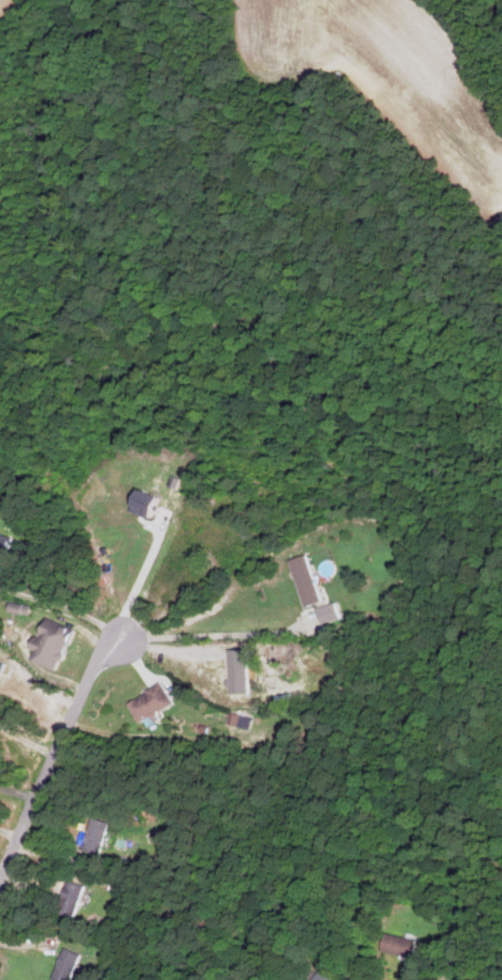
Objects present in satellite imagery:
building: (149, 502)
building: (4, 546)
building: (306, 579)
road: (138, 580)
road: (63, 607)
building: (329, 612)
road: (218, 637)
building: (52, 642)
building: (152, 703)
building: (241, 719)
road: (28, 743)
road: (55, 756)
road: (18, 792)
building: (96, 836)
building: (70, 899)
building: (399, 945)
building: (66, 965)
building: (324, 976)

